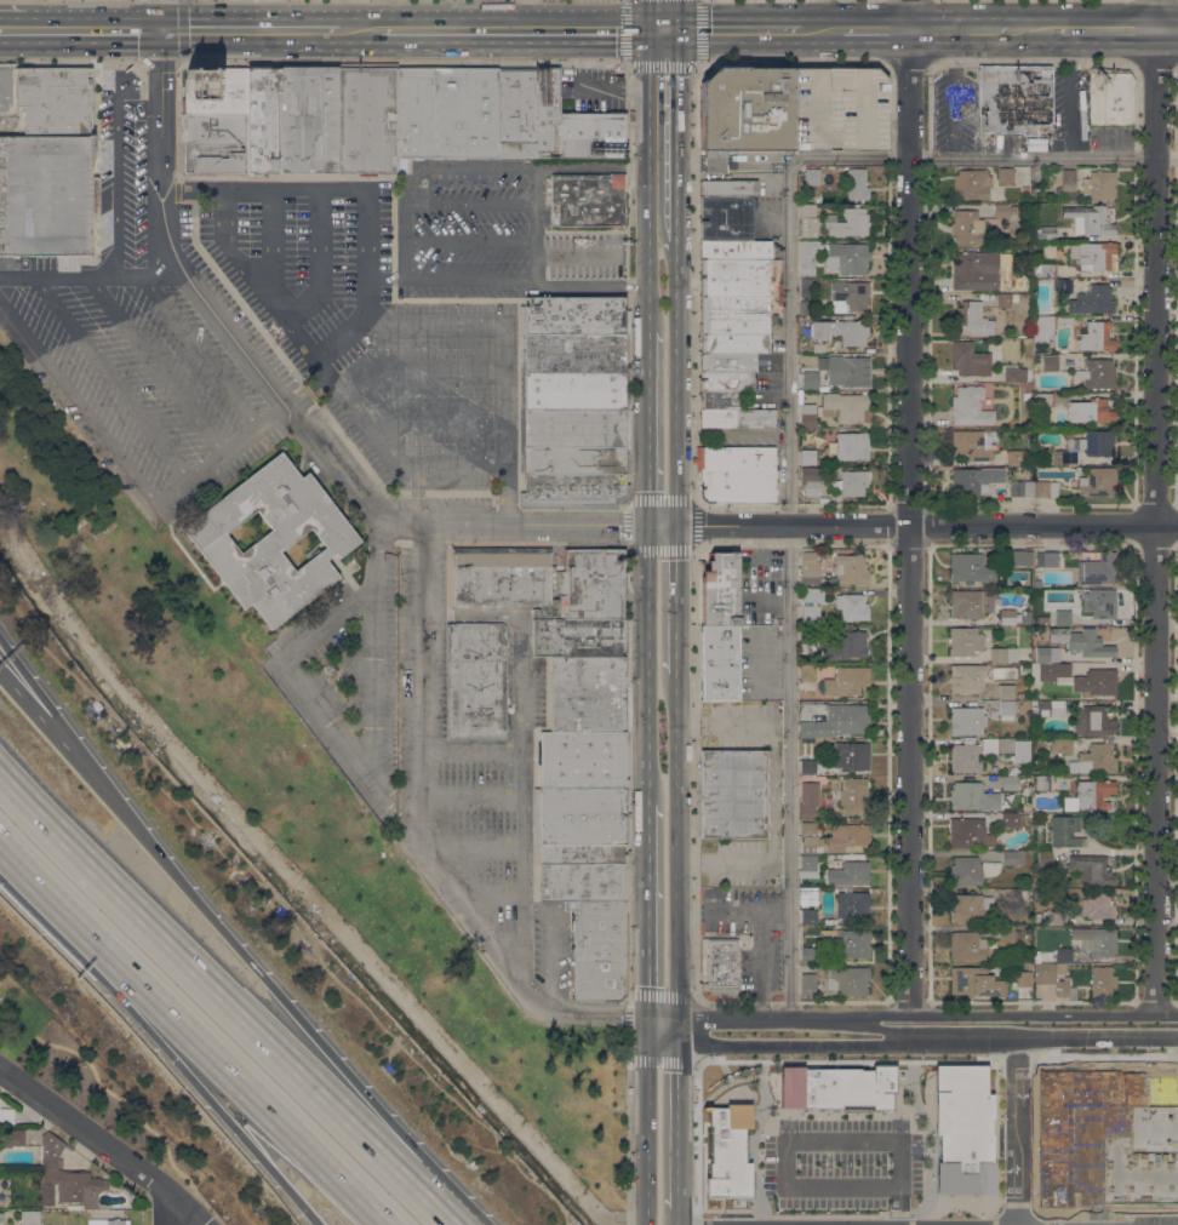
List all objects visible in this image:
road: (159, 15)
road: (527, 15)
road: (647, 15)
road: (677, 15)
road: (79, 28)
road: (248, 30)
road: (528, 30)
traffic signals: (647, 30)
traffic signals: (677, 30)
road: (738, 30)
road: (1168, 30)
road: (360, 32)
road: (822, 32)
road: (879, 32)
road: (962, 32)
road: (1033, 32)
road: (1106, 32)
road: (1071, 50)
building: (7, 91)
building: (215, 91)
building: (1111, 96)
building: (1013, 98)
building: (56, 99)
building: (790, 111)
building: (465, 113)
road: (1071, 113)
building: (262, 119)
building: (308, 119)
building: (366, 120)
building: (573, 125)
building: (211, 143)
road: (648, 149)
road: (676, 149)
road: (115, 156)
road: (1168, 158)
road: (756, 160)
road: (690, 162)
road: (715, 162)
road: (594, 165)
road: (473, 167)
building: (1005, 174)
building: (812, 176)
building: (1065, 178)
building: (971, 183)
building: (857, 184)
building: (1099, 184)
road: (365, 187)
building: (727, 188)
building: (1024, 189)
building: (46, 194)
building: (587, 199)
road: (473, 202)
building: (1001, 211)
building: (725, 218)
building: (1090, 219)
building: (807, 221)
road: (536, 222)
building: (847, 222)
road: (405, 223)
building: (967, 228)
building: (1046, 233)
road: (469, 241)
road: (273, 244)
building: (734, 248)
road: (576, 254)
building: (1092, 254)
building: (808, 256)
building: (847, 258)
road: (320, 259)
building: (1045, 269)
building: (982, 270)
road: (90, 275)
building: (733, 277)
road: (469, 280)
building: (1062, 285)
road: (590, 287)
building: (806, 287)
building: (851, 294)
building: (1006, 298)
road: (648, 299)
building: (1092, 299)
building: (806, 308)
building: (574, 316)
building: (733, 316)
building: (971, 319)
building: (1048, 325)
building: (840, 331)
road: (299, 334)
building: (1096, 337)
building: (732, 343)
road: (199, 351)
building: (970, 359)
building: (727, 362)
building: (1050, 362)
road: (155, 365)
road: (423, 368)
building: (846, 370)
building: (574, 372)
building: (1097, 373)
building: (1017, 374)
road: (507, 377)
road: (111, 379)
building: (726, 380)
building: (810, 380)
road: (308, 391)
road: (676, 396)
building: (1027, 396)
building: (721, 400)
road: (788, 402)
road: (78, 403)
building: (1043, 405)
building: (970, 406)
building: (845, 407)
building: (1091, 411)
building: (807, 414)
road: (292, 418)
road: (440, 418)
building: (737, 418)
road: (650, 427)
building: (1096, 442)
building: (972, 443)
building: (852, 446)
road: (219, 456)
building: (807, 457)
building: (1018, 457)
building: (1064, 457)
building: (573, 458)
building: (737, 474)
building: (812, 479)
building: (1097, 481)
building: (853, 482)
building: (967, 482)
building: (1020, 488)
building: (1046, 488)
road: (507, 498)
road: (1155, 505)
road: (909, 506)
road: (926, 523)
traffic signals: (651, 525)
traffic signals: (675, 525)
building: (271, 539)
building: (1020, 557)
building: (1047, 559)
building: (850, 567)
building: (970, 567)
building: (812, 569)
building: (1097, 569)
building: (503, 577)
building: (1037, 584)
building: (589, 585)
building: (720, 590)
building: (812, 595)
building: (1100, 602)
building: (971, 603)
building: (853, 607)
building: (811, 612)
road: (676, 613)
building: (1007, 617)
building: (1063, 617)
building: (1042, 619)
building: (581, 637)
building: (807, 637)
building: (963, 641)
building: (1081, 641)
road: (378, 643)
building: (846, 645)
road: (648, 648)
building: (1003, 654)
building: (1047, 654)
road: (285, 659)
building: (719, 663)
building: (1054, 671)
building: (807, 672)
building: (475, 677)
building: (967, 677)
building: (847, 681)
building: (1096, 682)
building: (1006, 692)
building: (590, 693)
building: (1057, 708)
building: (1006, 709)
building: (1042, 714)
road: (58, 721)
building: (967, 721)
building: (1093, 721)
building: (840, 722)
building: (476, 735)
road: (57, 738)
building: (1108, 739)
building: (989, 745)
building: (1062, 745)
building: (1014, 748)
road: (470, 751)
building: (852, 755)
road: (524, 759)
building: (965, 759)
building: (584, 760)
building: (1094, 760)
building: (806, 767)
park: (291, 779)
building: (1010, 783)
building: (1042, 783)
road: (773, 792)
building: (733, 794)
building: (853, 795)
building: (972, 796)
building: (1091, 796)
road: (471, 798)
building: (807, 798)
building: (582, 817)
building: (1011, 820)
building: (1063, 830)
building: (968, 832)
building: (856, 836)
building: (811, 838)
road: (473, 846)
road: (424, 852)
building: (582, 854)
building: (1012, 857)
building: (1045, 860)
road: (676, 863)
building: (808, 863)
building: (1092, 869)
building: (972, 870)
building: (850, 874)
building: (582, 881)
road: (647, 894)
building: (1011, 894)
building: (807, 895)
building: (1037, 895)
road: (492, 898)
building: (852, 904)
building: (1097, 906)
building: (971, 908)
road: (773, 910)
building: (808, 916)
building: (1054, 917)
building: (1037, 918)
building: (829, 920)
road: (757, 929)
building: (1008, 933)
building: (1096, 940)
building: (852, 943)
building: (966, 945)
building: (599, 949)
building: (808, 955)
building: (1063, 955)
building: (1036, 957)
building: (719, 966)
building: (1024, 977)
building: (848, 979)
building: (1053, 980)
building: (1102, 980)
building: (974, 981)
building: (807, 984)
building: (1042, 990)
road: (225, 997)
road: (294, 1012)
road: (966, 1013)
park: (17, 1015)
traffic signals: (647, 1015)
traffic signals: (674, 1023)
road: (715, 1030)
road: (905, 1030)
road: (200, 1031)
road: (1100, 1037)
road: (156, 1041)
road: (890, 1044)
road: (957, 1084)
road: (122, 1101)
road: (675, 1114)
building: (5, 1116)
road: (646, 1120)
building: (12, 1138)
building: (1106, 1139)
road: (103, 1144)
building: (808, 1145)
building: (67, 1174)
road: (1027, 1177)
building: (47, 1197)
building: (74, 1207)
road: (208, 1208)
road: (175, 1213)
road: (677, 1215)
building: (1, 1218)
building: (29, 1218)
road: (310, 1218)
building: (108, 1223)
road: (1028, 1224)
road: (1103, 1224)

